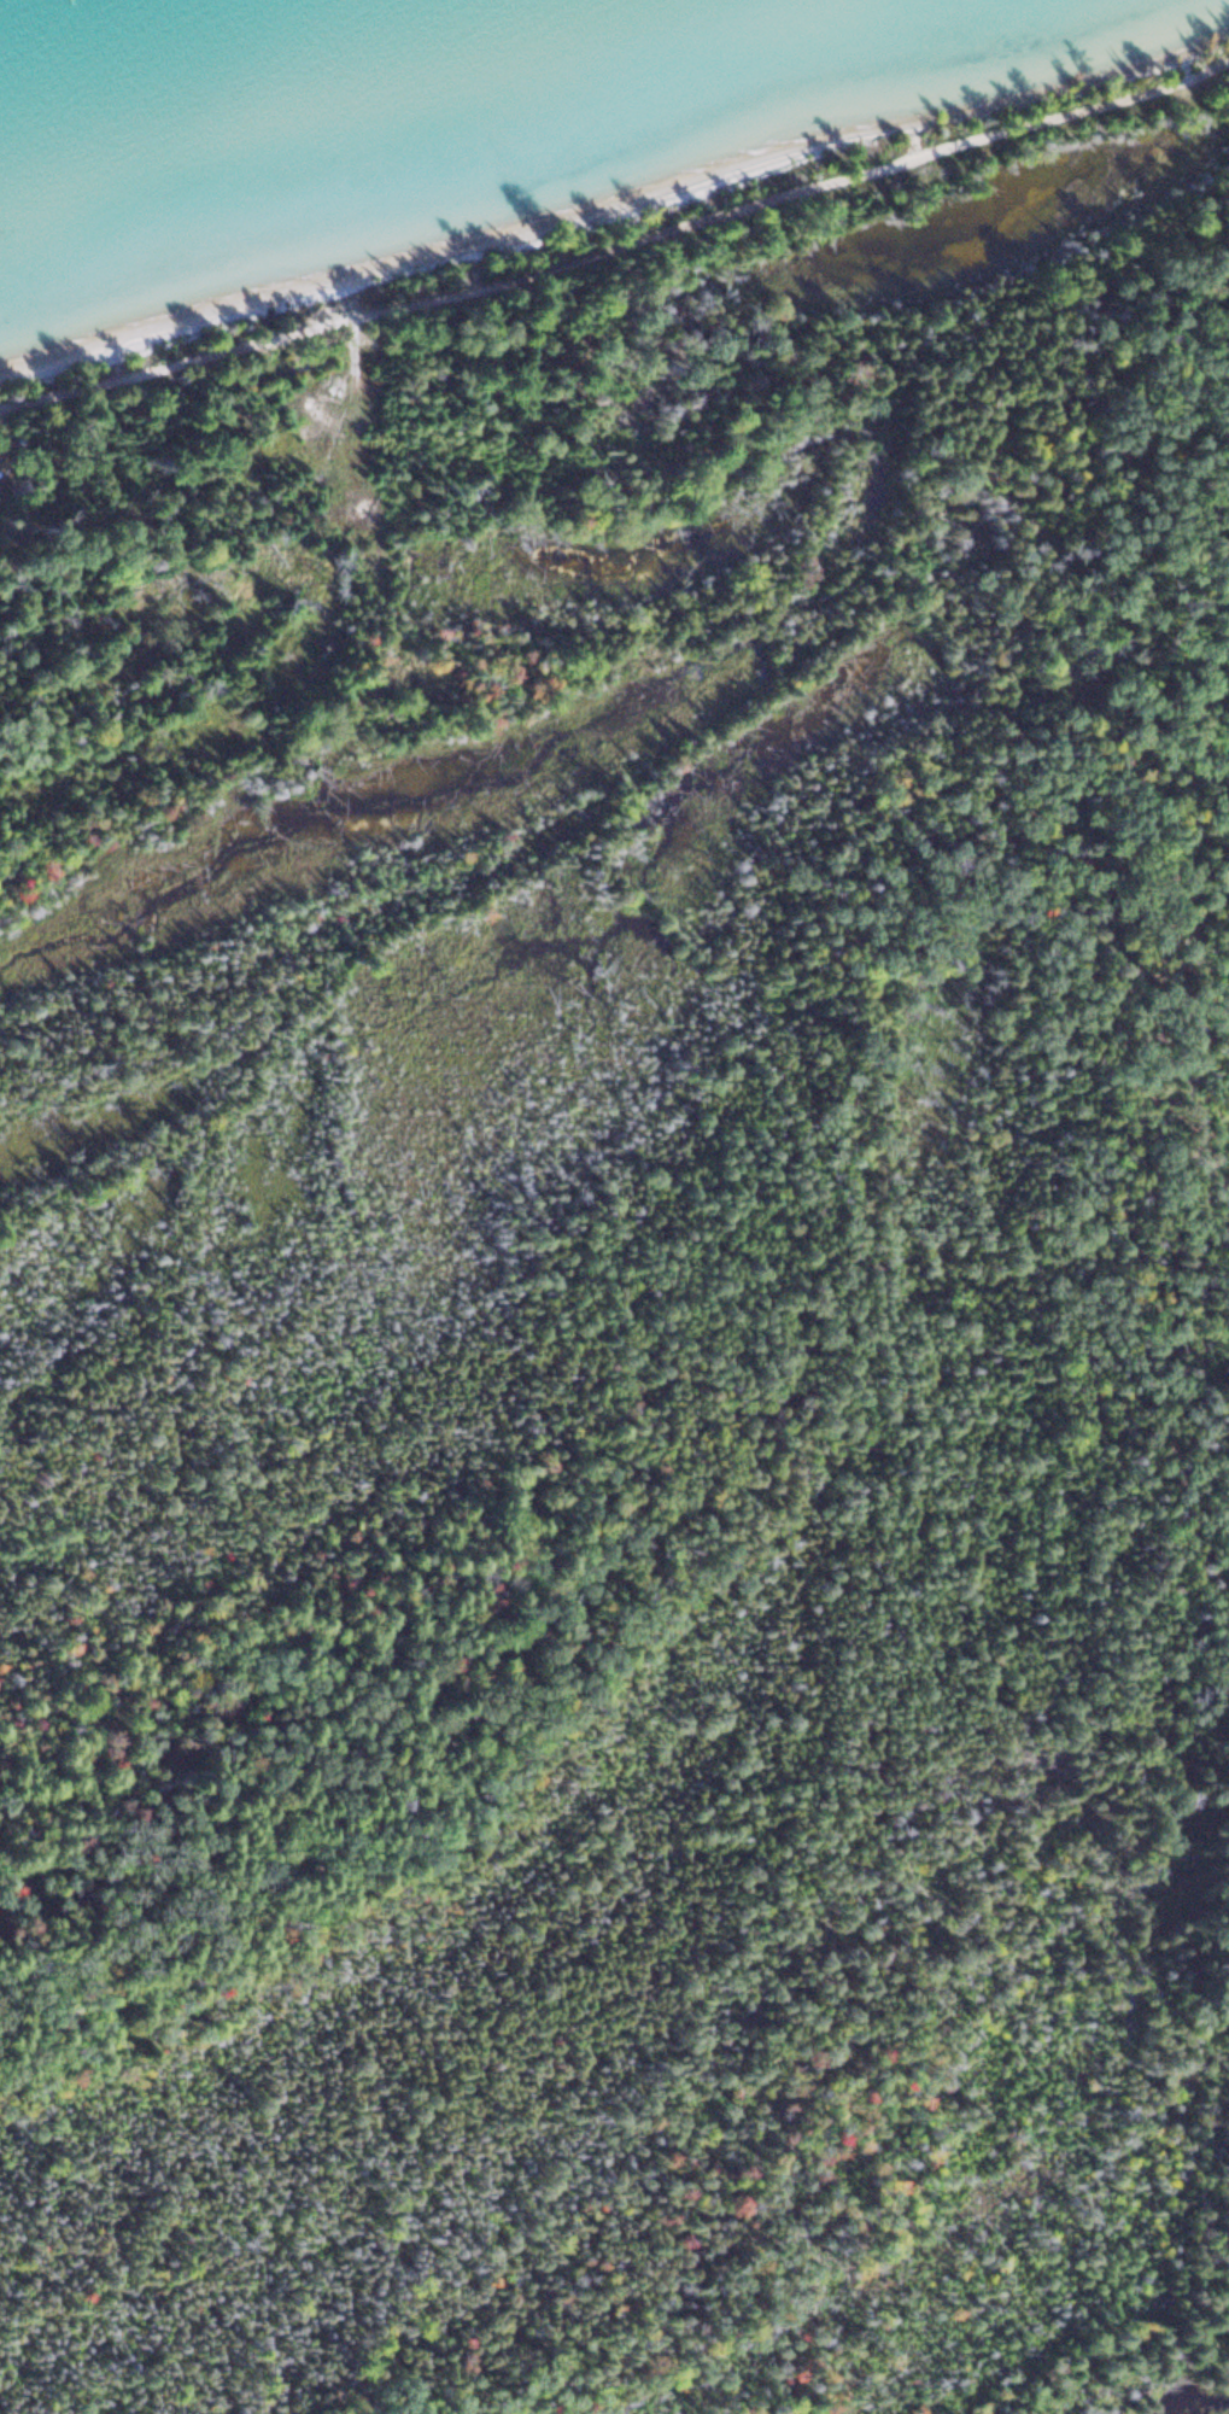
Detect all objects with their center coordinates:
road: (618, 257)

